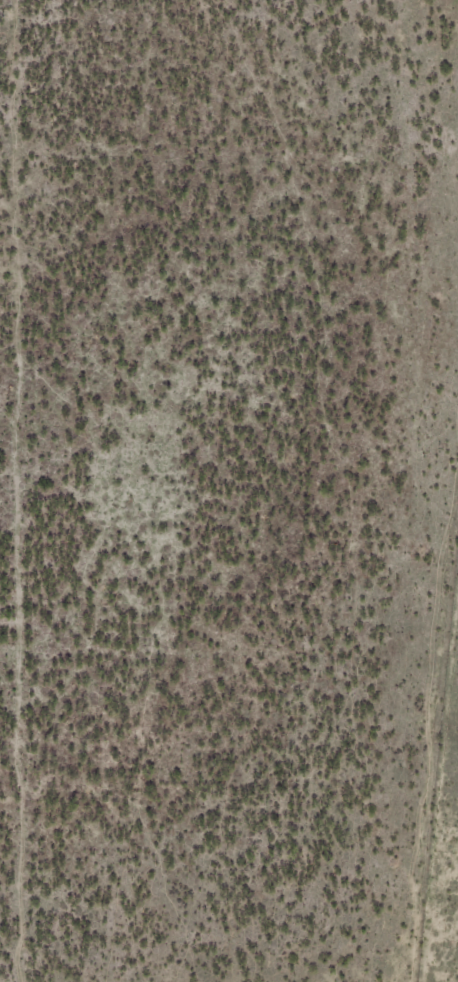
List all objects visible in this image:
road: (252, 19)

